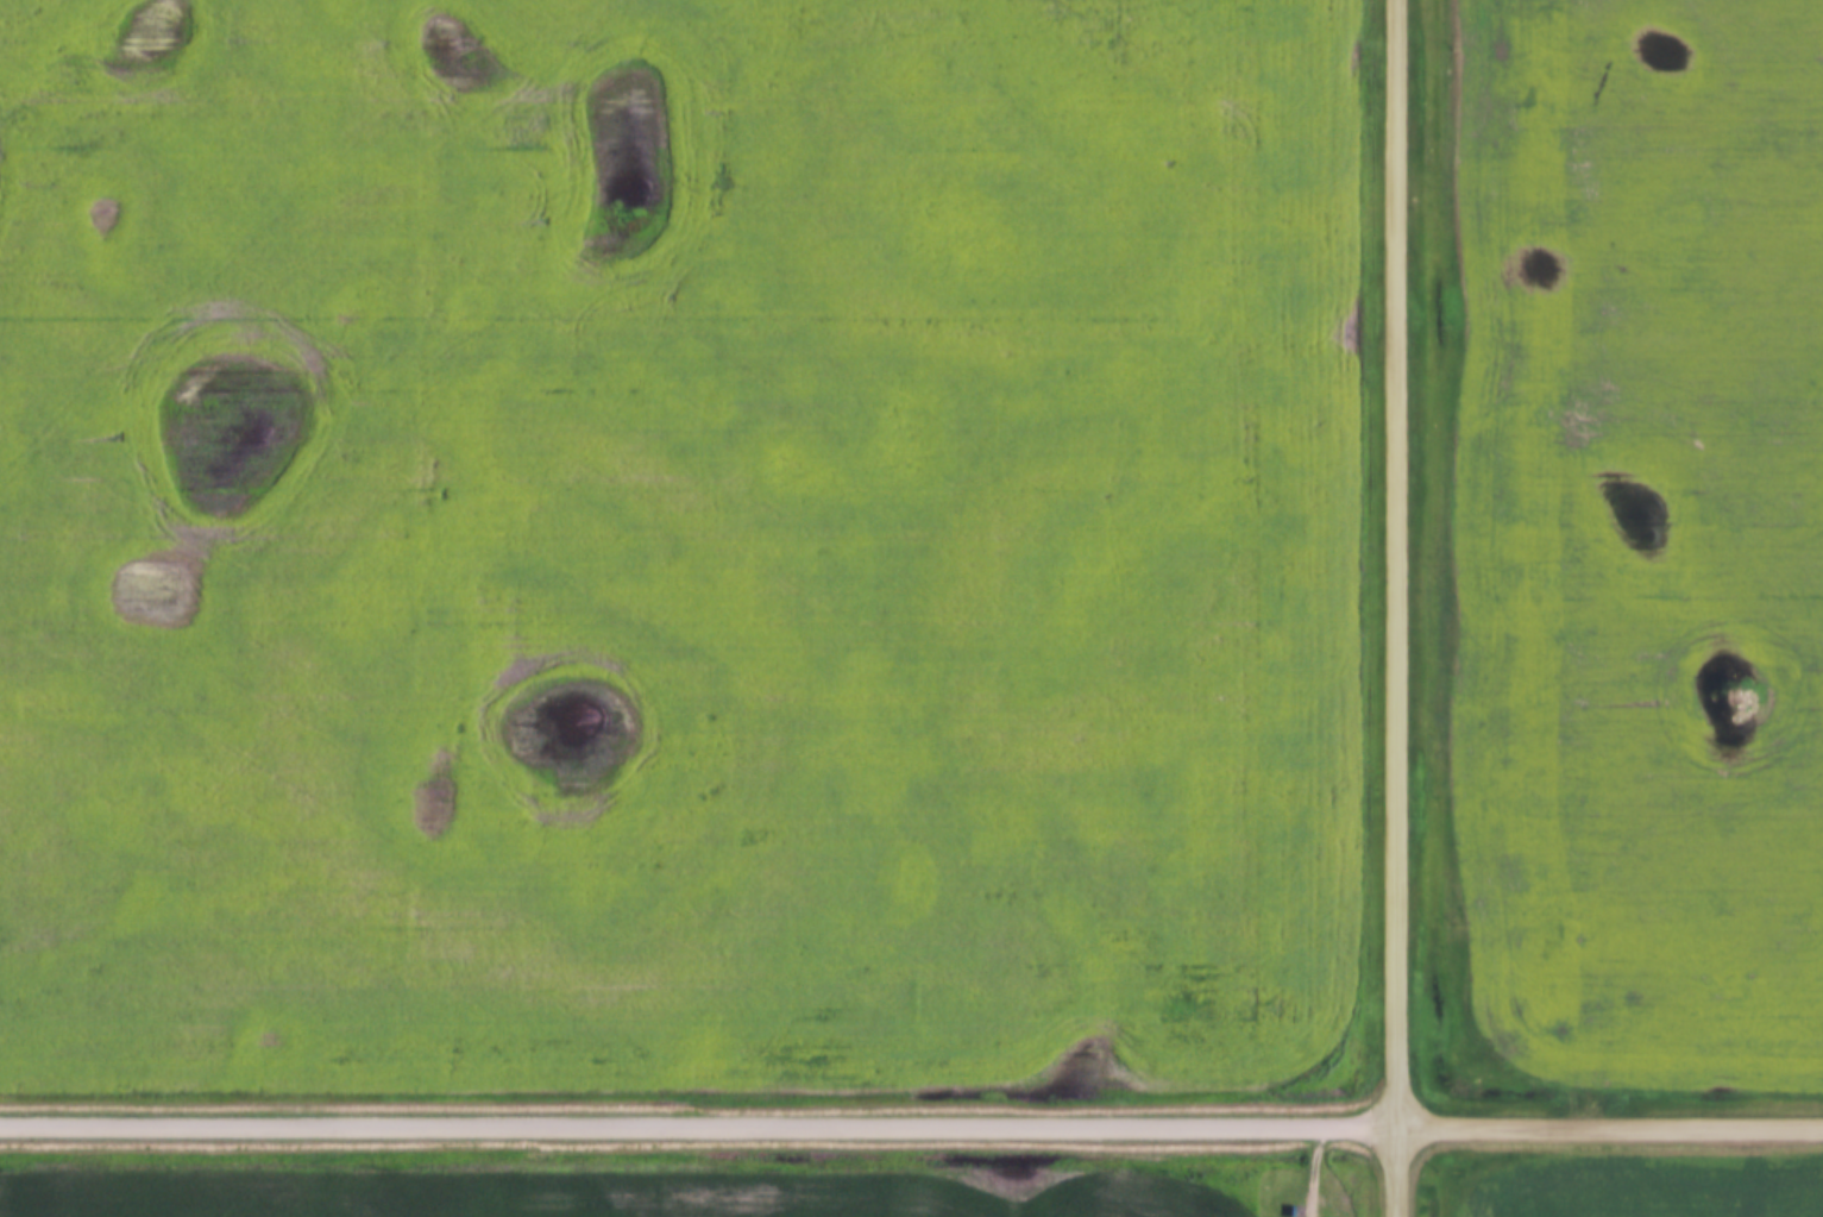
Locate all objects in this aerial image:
road: (1400, 608)
road: (911, 1118)
road: (1318, 1167)

